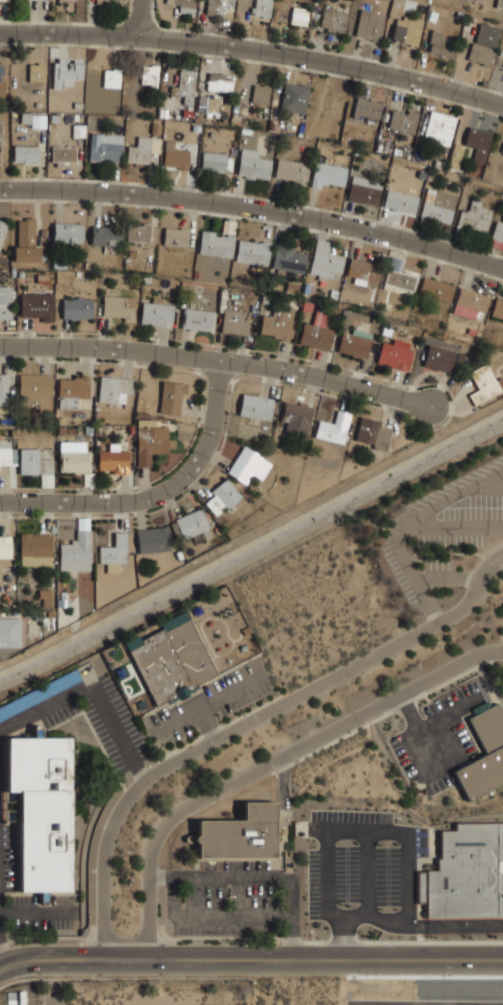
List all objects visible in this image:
building: (3, 0)
building: (38, 0)
building: (112, 0)
building: (98, 2)
building: (499, 4)
building: (185, 6)
building: (217, 7)
building: (263, 8)
building: (300, 15)
road: (142, 18)
building: (333, 20)
building: (370, 24)
building: (407, 30)
building: (487, 35)
building: (442, 44)
road: (254, 51)
building: (481, 53)
building: (37, 72)
building: (66, 72)
building: (150, 74)
building: (111, 77)
building: (2, 79)
building: (220, 81)
building: (186, 83)
building: (261, 94)
building: (295, 97)
building: (209, 104)
building: (367, 109)
building: (404, 120)
building: (440, 127)
building: (78, 133)
building: (0, 142)
building: (473, 145)
building: (106, 147)
building: (143, 150)
building: (502, 150)
building: (26, 153)
building: (64, 153)
building: (176, 154)
building: (217, 161)
building: (253, 164)
building: (292, 170)
building: (329, 175)
building: (365, 190)
building: (401, 201)
building: (438, 205)
road: (254, 209)
building: (476, 217)
building: (228, 227)
building: (2, 230)
building: (498, 231)
building: (68, 233)
building: (139, 233)
building: (176, 236)
building: (105, 237)
building: (26, 243)
building: (215, 244)
building: (132, 253)
building: (253, 253)
building: (2, 260)
building: (288, 260)
building: (325, 261)
building: (43, 263)
building: (58, 264)
building: (127, 264)
building: (395, 264)
building: (75, 265)
building: (87, 265)
building: (363, 271)
building: (78, 273)
building: (20, 274)
building: (197, 274)
building: (41, 279)
building: (399, 281)
building: (292, 288)
building: (437, 290)
building: (333, 295)
building: (265, 299)
building: (221, 300)
building: (5, 302)
building: (472, 302)
building: (36, 305)
building: (118, 307)
building: (307, 307)
building: (77, 308)
building: (497, 309)
building: (156, 313)
building: (196, 320)
building: (373, 320)
building: (234, 323)
building: (277, 323)
building: (385, 331)
building: (316, 332)
building: (355, 343)
building: (394, 355)
building: (459, 357)
building: (438, 358)
road: (218, 360)
building: (484, 384)
building: (113, 388)
building: (4, 390)
building: (72, 391)
building: (35, 396)
building: (171, 397)
building: (96, 407)
building: (256, 407)
building: (296, 418)
building: (61, 421)
building: (334, 428)
building: (88, 429)
building: (61, 430)
building: (129, 430)
building: (70, 431)
building: (13, 433)
building: (372, 433)
building: (150, 440)
building: (7, 454)
building: (73, 457)
building: (113, 459)
building: (33, 463)
building: (248, 465)
building: (88, 479)
building: (46, 480)
road: (490, 485)
road: (157, 495)
building: (222, 497)
building: (83, 524)
building: (189, 524)
road: (404, 525)
road: (452, 527)
building: (216, 529)
building: (206, 534)
building: (153, 539)
parking lot: (447, 539)
building: (5, 547)
building: (35, 549)
building: (76, 553)
building: (114, 553)
building: (179, 555)
road: (455, 577)
road: (423, 581)
building: (8, 588)
building: (44, 593)
building: (5, 598)
building: (62, 600)
building: (46, 602)
building: (50, 614)
building: (37, 616)
road: (219, 618)
building: (246, 630)
building: (10, 632)
road: (240, 637)
road: (204, 644)
road: (214, 656)
building: (170, 660)
road: (87, 689)
building: (39, 694)
road: (209, 700)
parking lot: (211, 701)
road: (407, 706)
road: (248, 723)
road: (205, 724)
building: (489, 735)
parking lot: (438, 737)
road: (270, 763)
road: (140, 771)
parking lot: (1, 798)
building: (43, 809)
road: (360, 833)
building: (240, 835)
parking lot: (361, 863)
building: (465, 872)
road: (367, 875)
road: (168, 876)
road: (228, 876)
parking lot: (234, 899)
road: (289, 907)
road: (407, 916)
road: (211, 918)
road: (421, 927)
road: (343, 931)
road: (2, 955)
road: (251, 959)
parking lot: (412, 1003)

